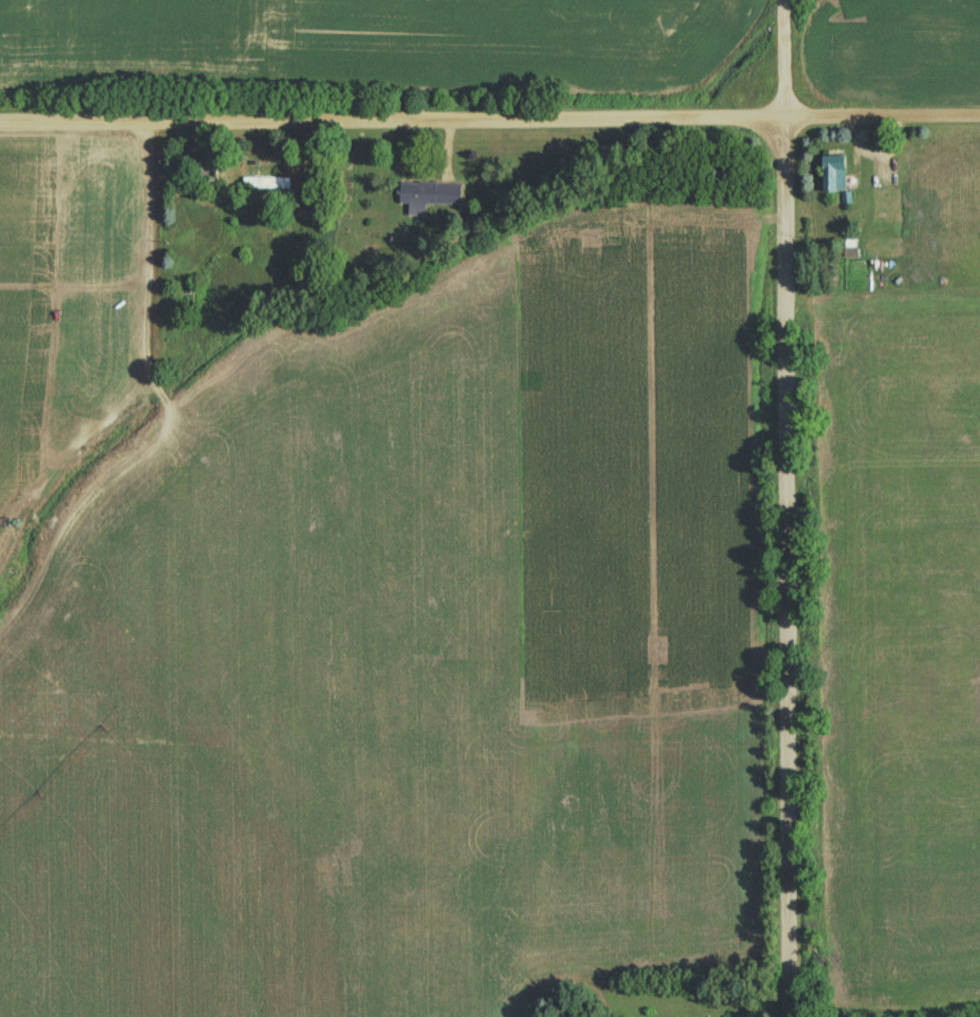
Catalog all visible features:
road: (489, 120)
building: (835, 176)
building: (210, 182)
building: (267, 185)
building: (429, 197)
road: (781, 508)

